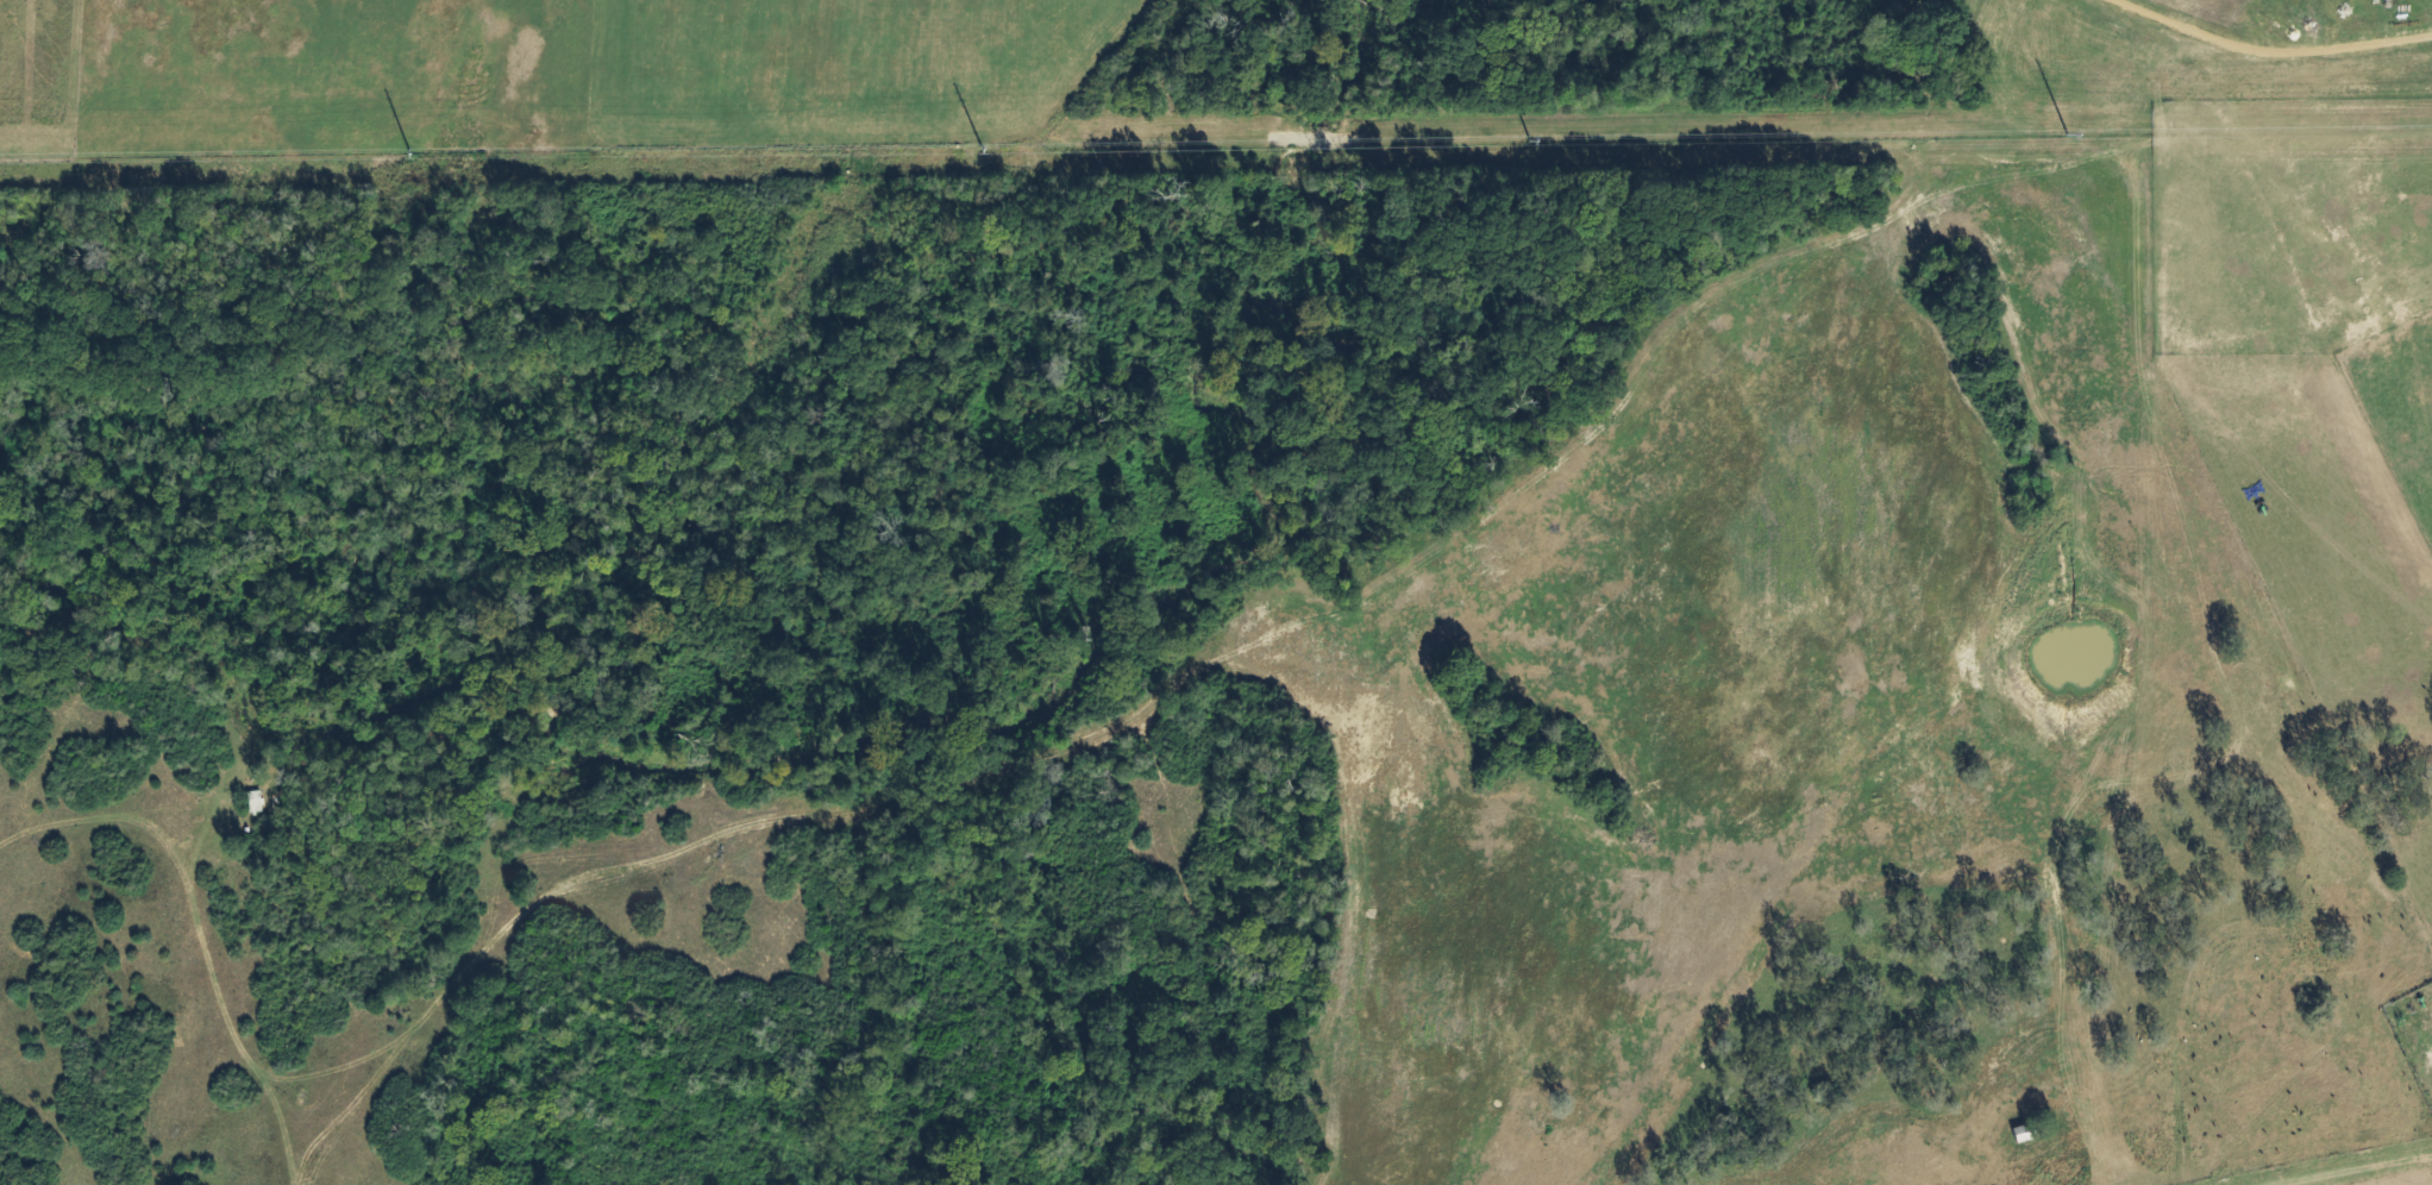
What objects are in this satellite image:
power tower: (2067, 134)
power tower: (1531, 140)
power tower: (980, 148)
power tower: (412, 153)

